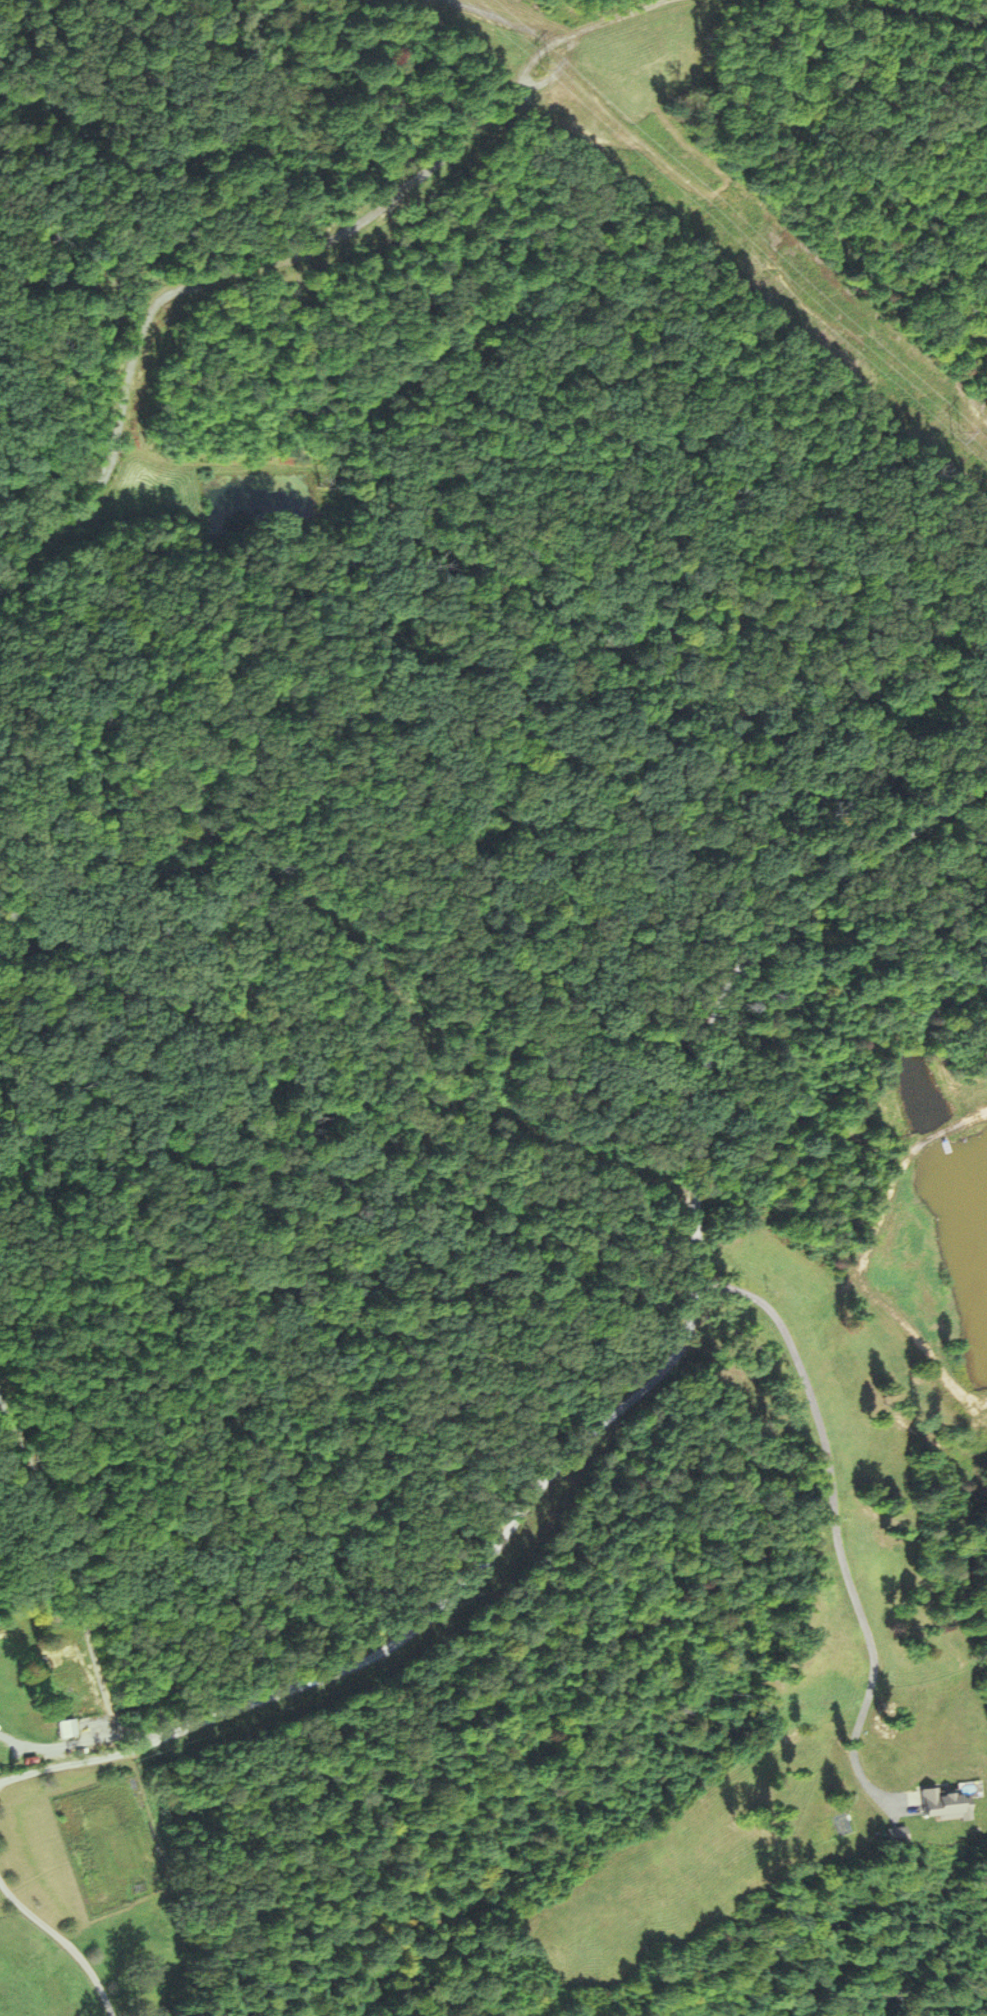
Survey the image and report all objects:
power tower: (540, 61)
power tower: (951, 431)
road: (637, 1395)
road: (835, 1525)
road: (62, 1565)
building: (63, 1725)
road: (76, 1741)
road: (63, 1943)

